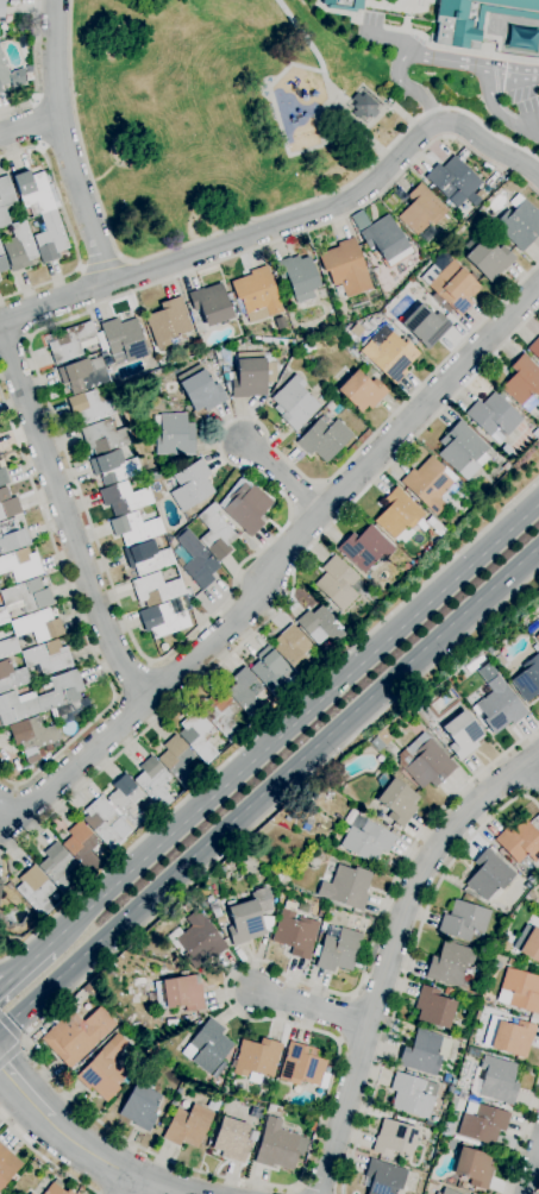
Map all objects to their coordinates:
building: (344, 5)
building: (1, 11)
building: (475, 18)
road: (430, 58)
road: (32, 67)
building: (29, 73)
building: (11, 75)
building: (0, 92)
building: (364, 107)
park: (232, 111)
road: (496, 114)
road: (37, 122)
road: (528, 122)
road: (29, 125)
road: (65, 145)
road: (102, 174)
building: (452, 178)
building: (33, 190)
building: (5, 200)
building: (421, 214)
building: (519, 222)
road: (284, 224)
road: (69, 227)
road: (219, 232)
building: (50, 238)
building: (386, 241)
building: (19, 247)
building: (424, 250)
building: (487, 257)
road: (123, 260)
building: (2, 262)
road: (102, 265)
road: (82, 268)
building: (345, 268)
building: (296, 275)
building: (451, 287)
building: (256, 295)
building: (211, 303)
building: (169, 323)
building: (425, 326)
building: (356, 331)
building: (345, 335)
road: (13, 339)
building: (123, 339)
building: (71, 343)
building: (308, 347)
building: (534, 348)
building: (388, 353)
building: (83, 375)
building: (250, 375)
building: (522, 383)
building: (200, 390)
building: (361, 391)
building: (294, 403)
building: (92, 407)
building: (493, 417)
building: (118, 421)
building: (535, 433)
building: (173, 434)
building: (104, 436)
building: (324, 439)
building: (504, 450)
building: (462, 451)
building: (130, 453)
building: (113, 466)
building: (504, 466)
road: (281, 476)
building: (2, 478)
road: (315, 483)
building: (192, 485)
building: (430, 485)
building: (124, 498)
road: (302, 498)
building: (7, 504)
building: (247, 508)
road: (289, 513)
building: (397, 515)
road: (67, 519)
building: (430, 521)
building: (134, 528)
building: (439, 533)
building: (215, 534)
building: (12, 535)
building: (363, 548)
building: (146, 558)
building: (196, 559)
road: (274, 560)
building: (20, 565)
building: (405, 568)
building: (336, 584)
building: (156, 589)
road: (112, 590)
building: (26, 596)
road: (288, 596)
building: (2, 616)
building: (162, 620)
road: (80, 621)
building: (38, 626)
building: (320, 626)
building: (537, 637)
building: (8, 647)
building: (293, 649)
building: (489, 649)
building: (46, 658)
road: (148, 662)
building: (272, 673)
building: (11, 677)
building: (527, 679)
road: (132, 681)
building: (61, 693)
building: (250, 696)
road: (114, 698)
building: (17, 706)
building: (497, 706)
building: (221, 714)
road: (270, 722)
road: (293, 723)
building: (0, 724)
building: (462, 735)
building: (198, 736)
building: (33, 737)
building: (377, 743)
building: (177, 761)
building: (425, 762)
building: (35, 765)
road: (535, 766)
building: (153, 781)
road: (269, 785)
building: (125, 799)
road: (7, 800)
building: (397, 802)
building: (105, 822)
building: (366, 840)
building: (520, 842)
building: (81, 847)
building: (58, 868)
building: (489, 875)
building: (0, 881)
building: (347, 887)
building: (37, 891)
building: (538, 899)
building: (250, 917)
building: (463, 920)
building: (324, 925)
building: (295, 934)
building: (198, 941)
building: (531, 944)
building: (338, 949)
road: (389, 951)
building: (512, 962)
building: (451, 964)
road: (14, 967)
road: (24, 968)
road: (409, 968)
building: (520, 991)
building: (182, 993)
road: (309, 1006)
building: (433, 1007)
building: (186, 1019)
road: (10, 1028)
building: (77, 1035)
building: (512, 1036)
road: (21, 1041)
road: (21, 1042)
building: (207, 1047)
road: (11, 1052)
building: (425, 1052)
building: (256, 1058)
building: (301, 1064)
building: (105, 1069)
building: (497, 1080)
road: (26, 1088)
building: (413, 1095)
building: (140, 1107)
building: (483, 1124)
building: (188, 1126)
building: (252, 1136)
road: (521, 1137)
building: (394, 1138)
building: (231, 1139)
building: (278, 1145)
road: (45, 1158)
road: (176, 1162)
road: (528, 1164)
building: (7, 1165)
building: (474, 1167)
road: (129, 1174)
building: (384, 1177)
road: (126, 1184)
building: (56, 1188)
road: (294, 1190)
road: (306, 1190)
building: (447, 1192)
building: (31, 1193)

